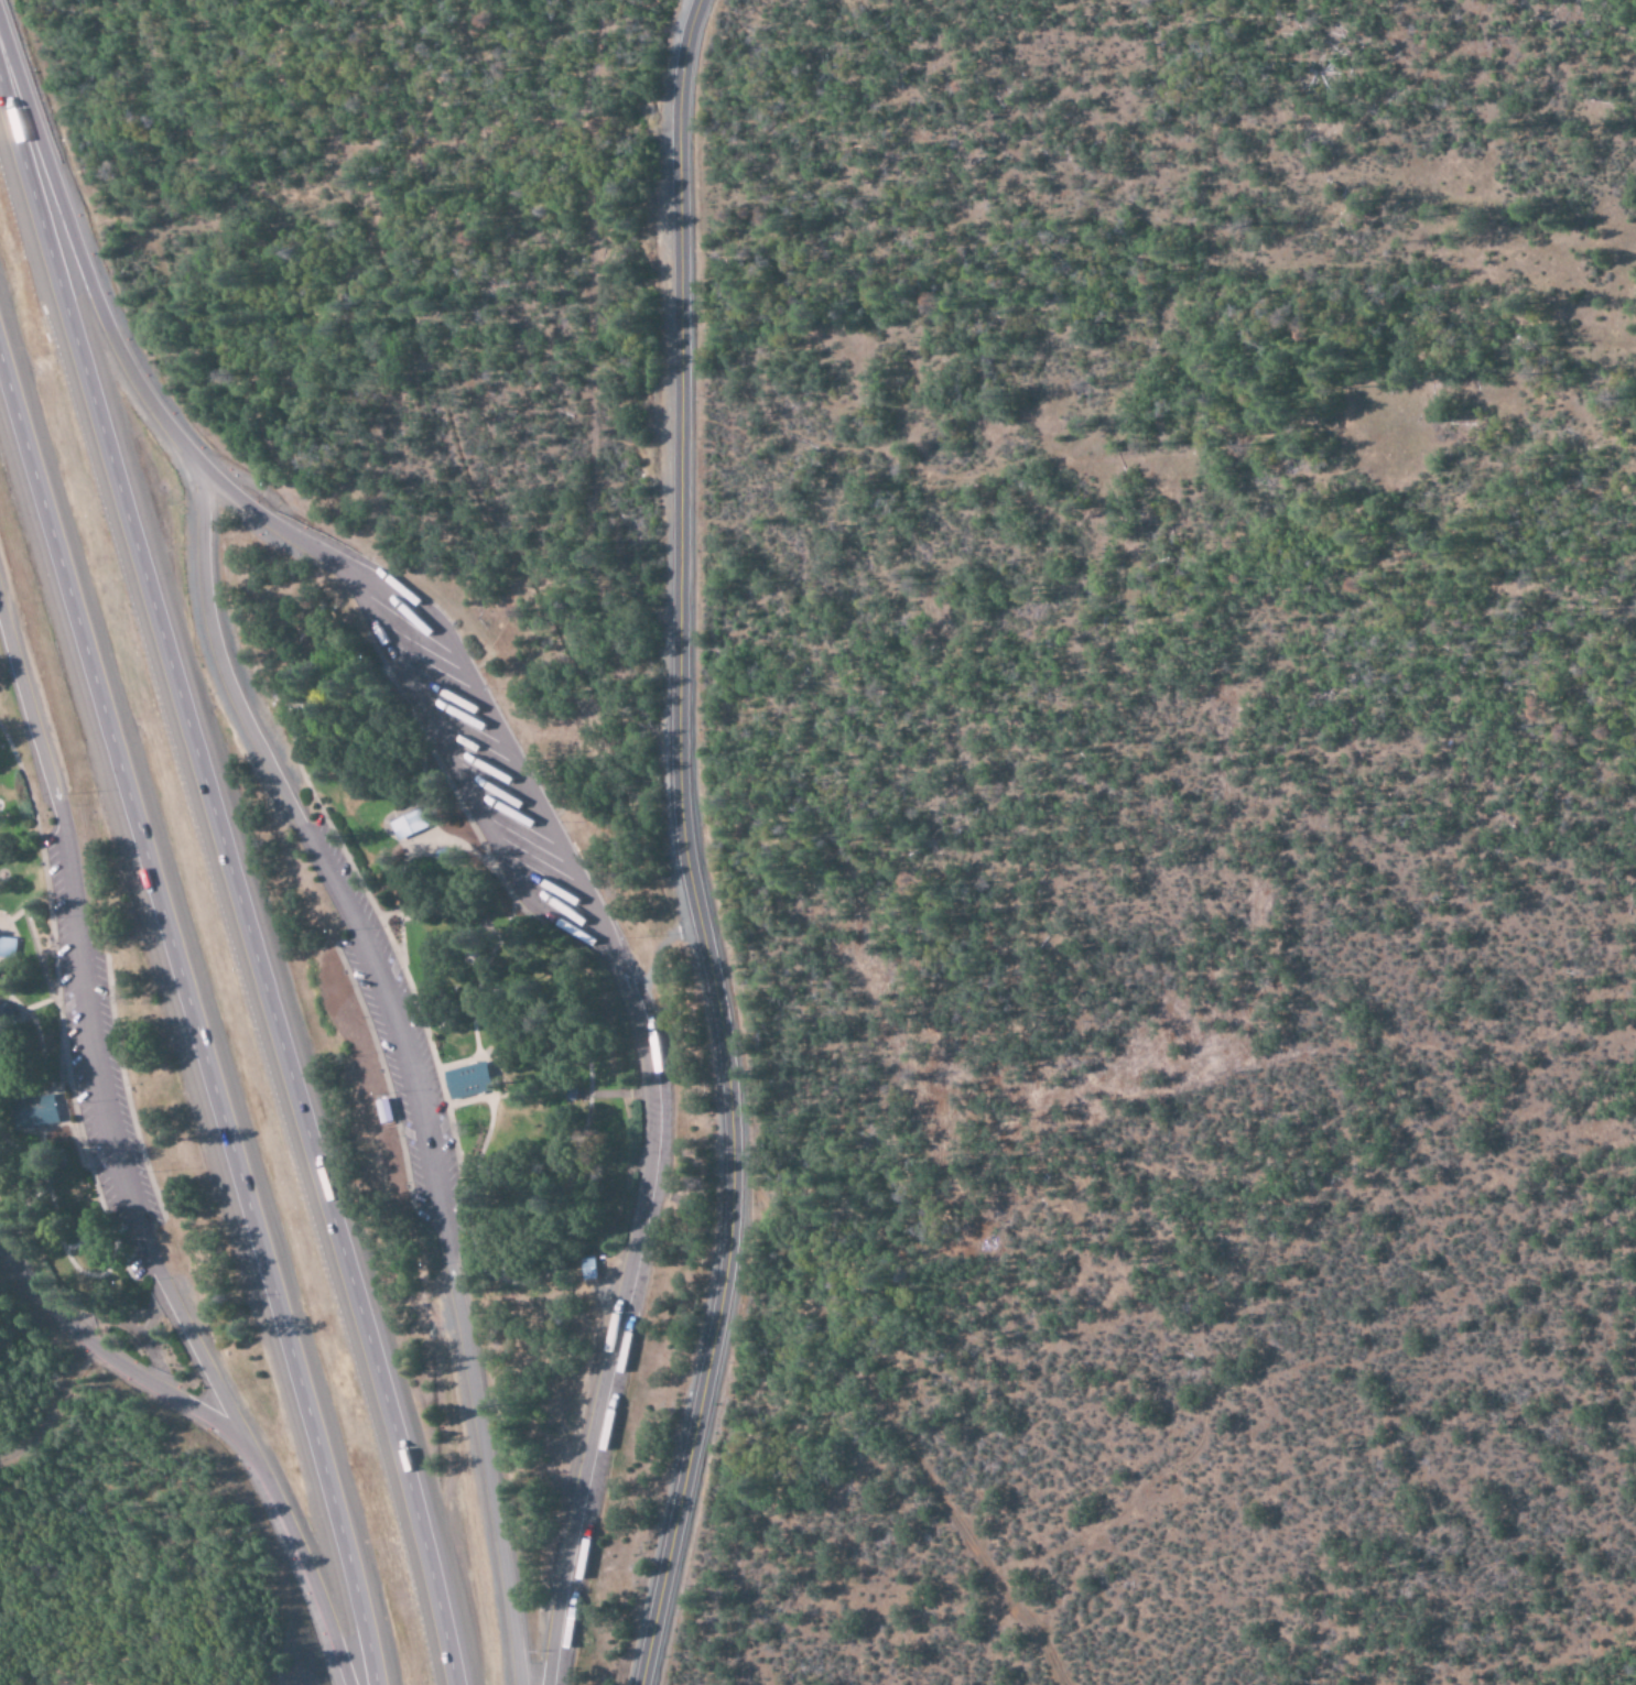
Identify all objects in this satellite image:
road: (84, 241)
building: (405, 825)
road: (685, 847)
road: (242, 871)
building: (6, 947)
road: (625, 982)
road: (193, 1019)
road: (97, 1024)
road: (404, 1045)
building: (464, 1080)
building: (31, 1112)
building: (585, 1268)
road: (108, 1357)
road: (307, 1557)

